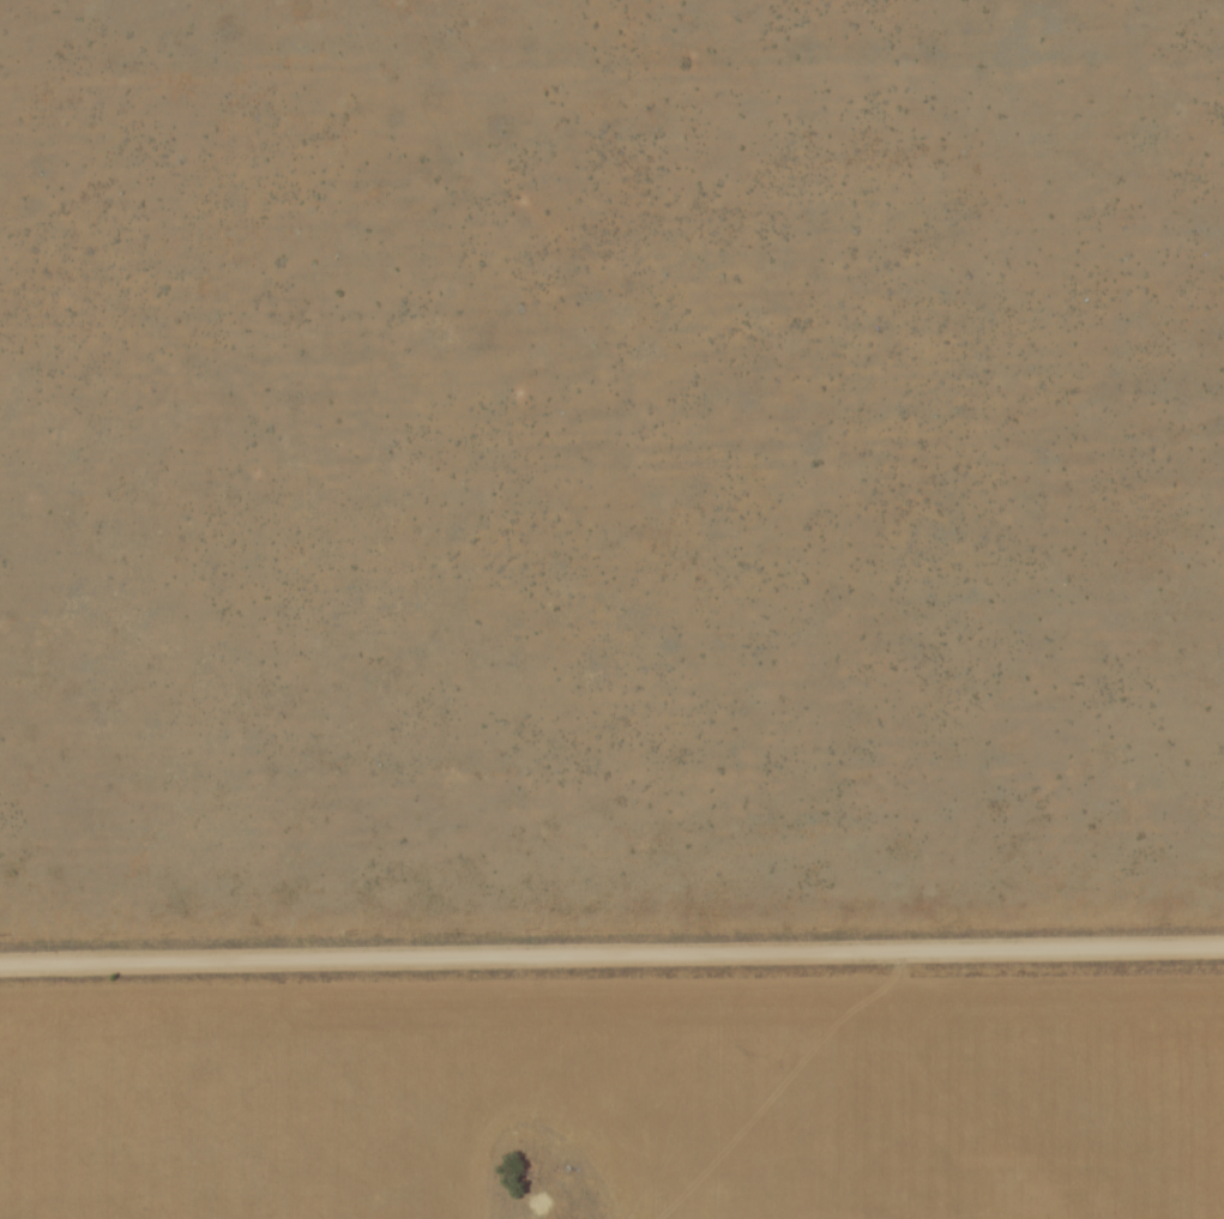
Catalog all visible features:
road: (611, 961)

